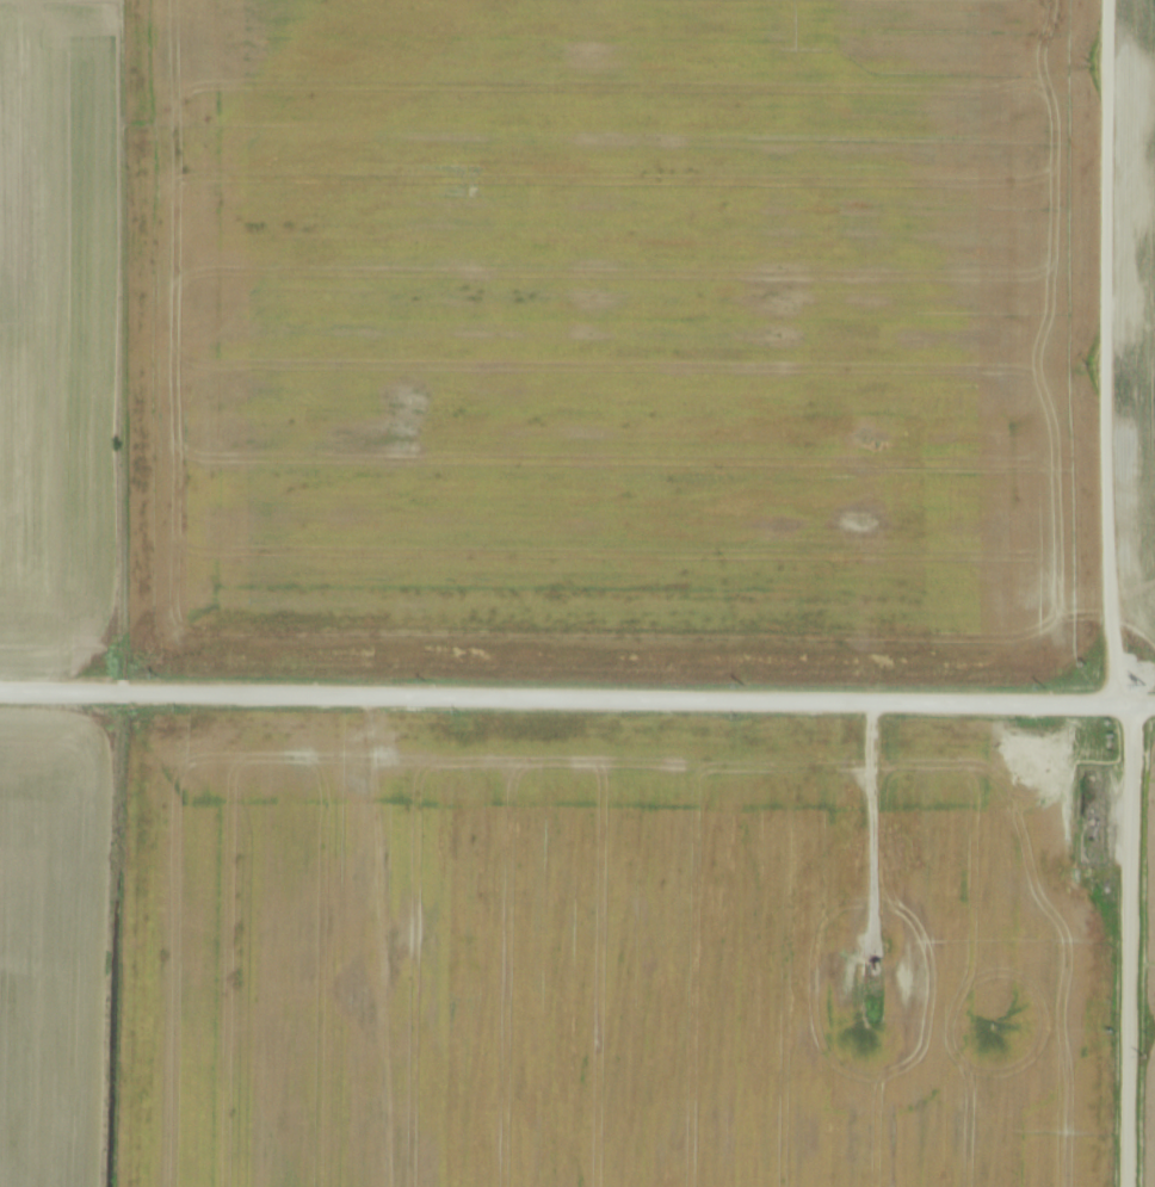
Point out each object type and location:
road: (1105, 351)
road: (577, 695)
road: (1132, 945)

